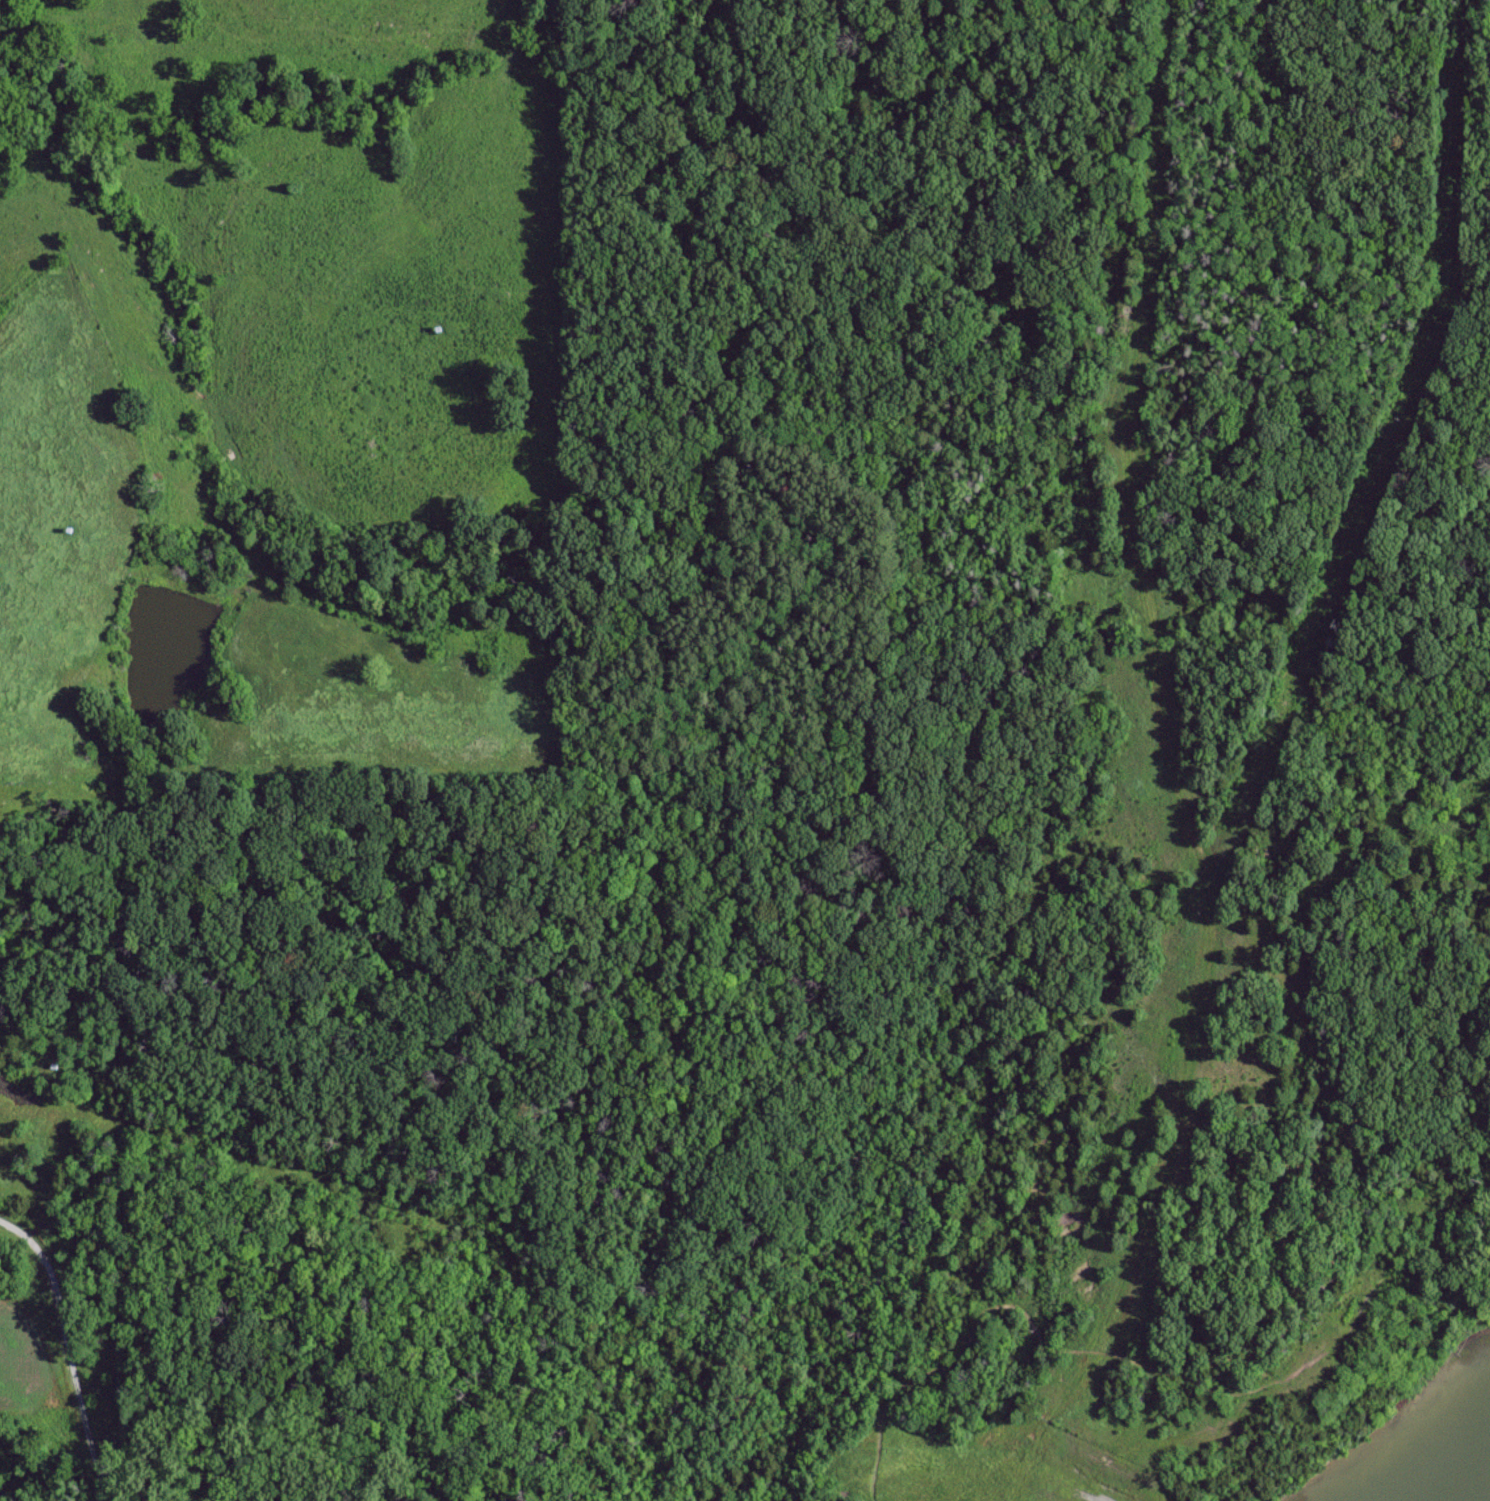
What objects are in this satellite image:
road: (1149, 678)
road: (64, 1351)
road: (1139, 1360)

